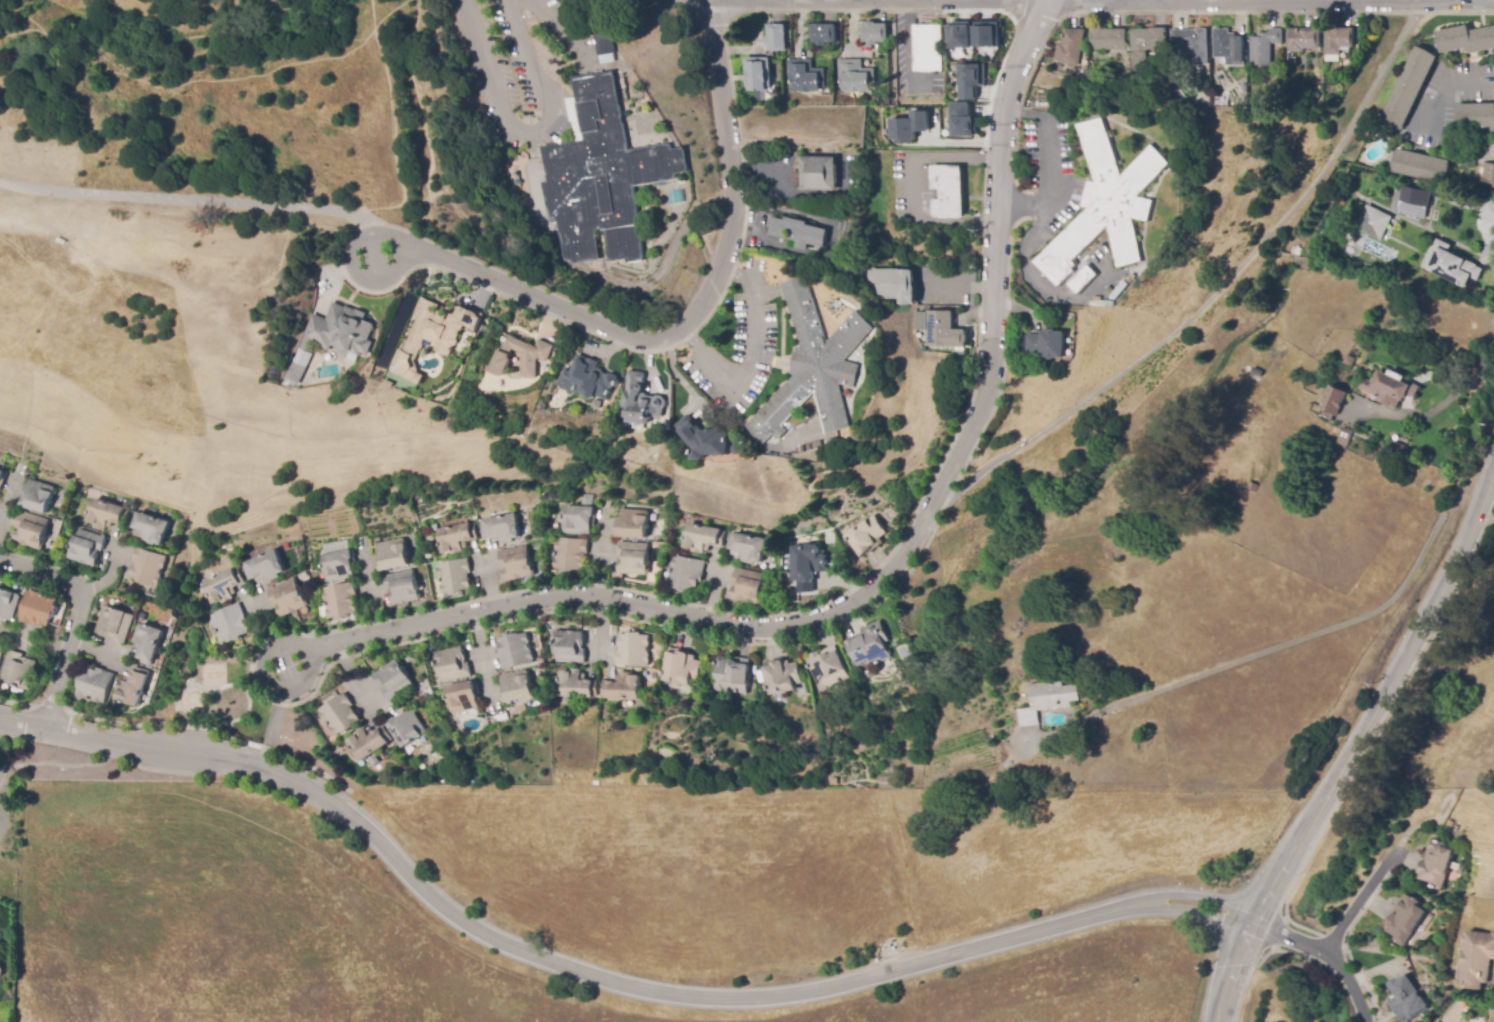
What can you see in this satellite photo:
road: (1246, 0)
building: (564, 2)
road: (1454, 12)
building: (987, 32)
building: (875, 33)
building: (959, 33)
building: (823, 34)
building: (776, 37)
building: (1109, 39)
building: (1303, 39)
building: (1466, 39)
building: (1339, 40)
building: (1147, 44)
building: (1072, 47)
building: (1190, 47)
building: (1229, 47)
building: (1264, 47)
building: (606, 48)
building: (928, 48)
building: (620, 74)
building: (757, 76)
building: (804, 76)
building: (855, 76)
building: (971, 76)
road: (1443, 78)
building: (1410, 88)
building: (1244, 92)
building: (775, 98)
building: (1208, 102)
building: (1476, 115)
building: (963, 118)
building: (910, 125)
road: (530, 132)
building: (1470, 156)
building: (1422, 166)
building: (818, 173)
building: (599, 176)
building: (1488, 176)
road: (909, 189)
building: (946, 191)
road: (189, 200)
road: (1023, 202)
building: (1414, 202)
building: (1103, 204)
building: (1373, 222)
road: (1036, 227)
building: (798, 232)
road: (396, 246)
road: (861, 253)
building: (1455, 267)
building: (1080, 278)
building: (894, 285)
road: (1212, 287)
building: (1102, 303)
road: (693, 312)
building: (941, 329)
building: (430, 333)
building: (333, 338)
building: (1047, 344)
building: (535, 356)
building: (1350, 360)
road: (749, 362)
building: (812, 366)
building: (1248, 369)
building: (1257, 372)
building: (587, 379)
building: (1391, 388)
building: (642, 401)
building: (1335, 401)
road: (1438, 405)
building: (1347, 434)
building: (705, 439)
building: (828, 442)
building: (737, 449)
building: (2, 478)
building: (1252, 486)
building: (38, 496)
building: (583, 501)
building: (130, 503)
building: (107, 514)
building: (578, 520)
building: (181, 521)
building: (634, 524)
building: (149, 528)
building: (500, 528)
building: (32, 529)
building: (867, 535)
building: (456, 537)
building: (703, 538)
building: (87, 547)
building: (747, 547)
building: (570, 554)
building: (392, 555)
building: (634, 558)
building: (517, 563)
building: (338, 565)
building: (148, 566)
building: (807, 566)
building: (264, 567)
road: (891, 571)
building: (686, 573)
building: (302, 575)
building: (454, 577)
building: (222, 585)
building: (748, 586)
building: (403, 587)
building: (314, 591)
building: (287, 597)
building: (340, 601)
building: (8, 604)
building: (38, 609)
road: (72, 617)
building: (115, 624)
building: (230, 624)
road: (1332, 629)
building: (147, 643)
building: (569, 646)
building: (869, 647)
building: (515, 650)
building: (633, 650)
building: (1, 652)
road: (313, 664)
building: (453, 664)
building: (680, 667)
building: (827, 668)
building: (19, 670)
building: (731, 675)
building: (782, 676)
building: (394, 680)
building: (96, 684)
building: (575, 684)
building: (134, 687)
building: (517, 687)
building: (622, 687)
building: (421, 688)
building: (463, 696)
building: (1049, 700)
road: (1373, 700)
building: (518, 709)
building: (340, 714)
building: (407, 727)
road: (271, 729)
building: (370, 742)
building: (598, 784)
building: (1434, 865)
road: (1360, 901)
building: (1405, 919)
road: (1325, 950)
building: (1476, 958)
road: (1229, 970)
road: (597, 976)
building: (1405, 999)

